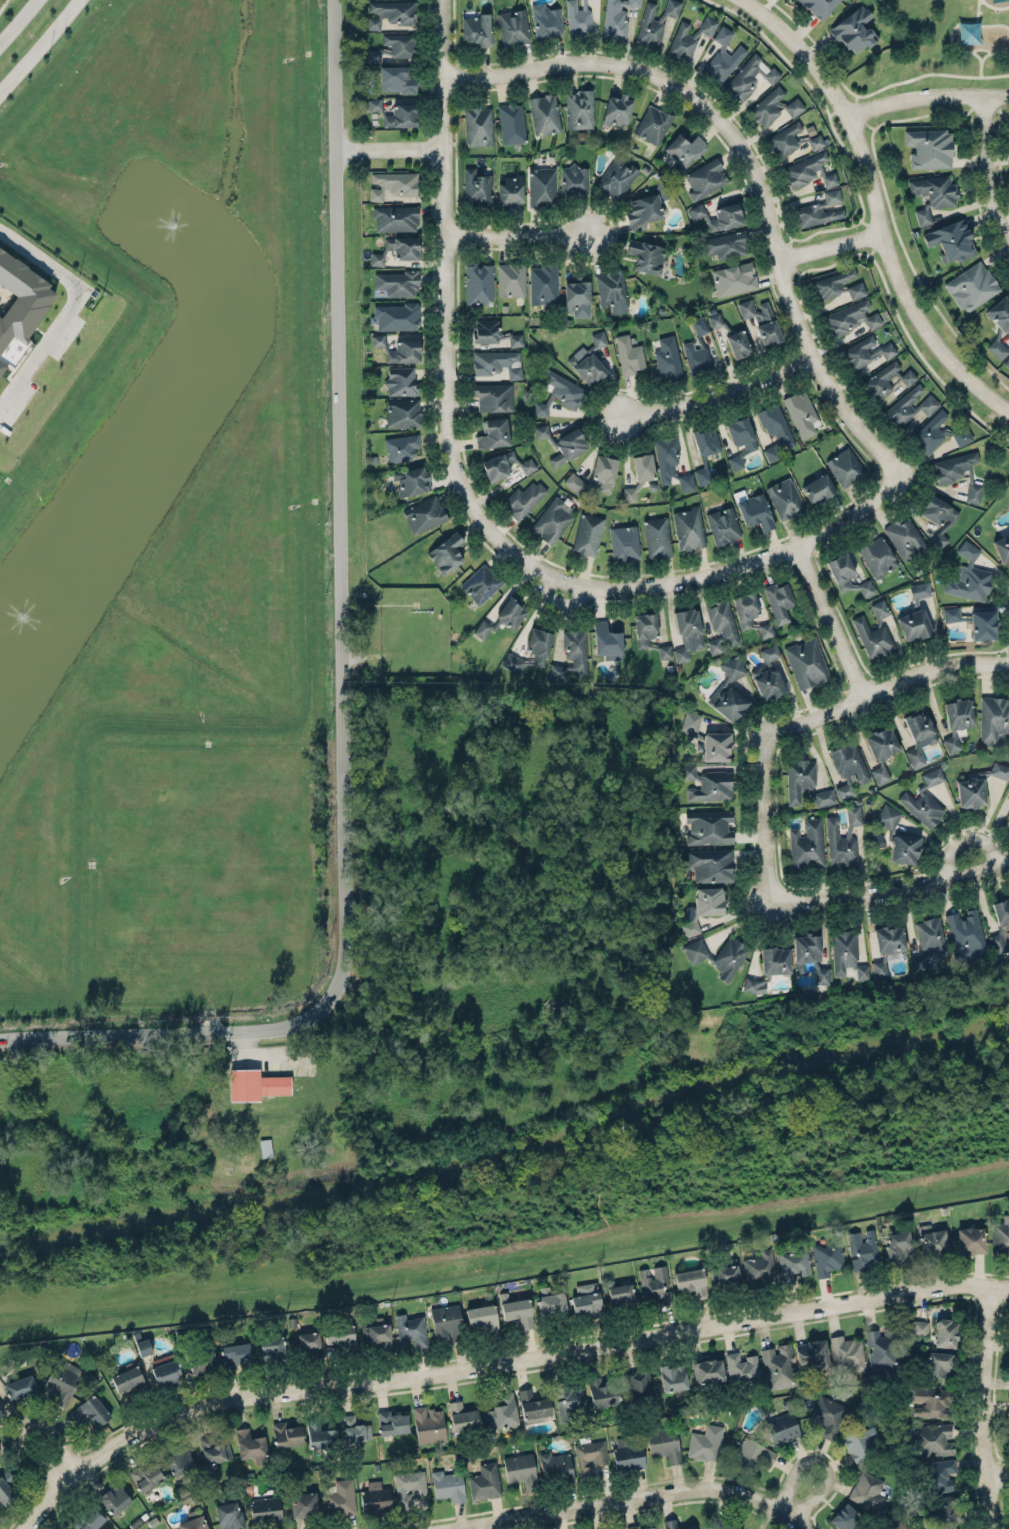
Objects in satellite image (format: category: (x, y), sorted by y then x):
road: (3, 5)
building: (819, 6)
road: (977, 11)
building: (389, 13)
building: (578, 17)
building: (616, 18)
building: (547, 20)
road: (17, 21)
building: (654, 21)
road: (957, 24)
building: (513, 25)
building: (853, 26)
building: (476, 29)
building: (690, 36)
building: (399, 44)
road: (39, 45)
road: (981, 48)
road: (823, 49)
road: (994, 51)
building: (373, 56)
building: (723, 57)
road: (981, 67)
road: (930, 73)
building: (750, 76)
building: (396, 78)
road: (929, 100)
building: (774, 105)
building: (618, 108)
building: (579, 109)
building: (544, 114)
building: (511, 123)
building: (653, 123)
building: (478, 124)
building: (791, 138)
building: (929, 146)
road: (389, 148)
building: (684, 148)
road: (751, 167)
building: (807, 170)
road: (985, 173)
building: (616, 176)
building: (705, 177)
building: (574, 179)
building: (392, 184)
building: (542, 186)
building: (476, 188)
building: (511, 189)
building: (933, 193)
building: (831, 196)
road: (876, 204)
building: (643, 210)
building: (718, 214)
building: (816, 214)
building: (396, 217)
road: (861, 218)
fountain: (174, 224)
road: (518, 235)
building: (951, 241)
building: (725, 244)
road: (829, 245)
building: (397, 248)
road: (448, 255)
building: (646, 256)
building: (734, 278)
building: (511, 279)
building: (478, 282)
building: (397, 283)
building: (543, 283)
building: (838, 285)
building: (972, 285)
building: (611, 291)
building: (20, 293)
building: (578, 296)
road: (63, 311)
building: (1000, 313)
building: (395, 316)
building: (851, 317)
building: (715, 320)
building: (767, 323)
building: (493, 333)
building: (377, 340)
building: (738, 344)
building: (697, 348)
building: (997, 348)
building: (887, 350)
building: (404, 352)
building: (857, 353)
building: (629, 354)
building: (589, 358)
building: (667, 359)
building: (1, 361)
building: (496, 362)
building: (1007, 362)
building: (401, 381)
building: (884, 381)
road: (719, 391)
building: (559, 393)
building: (493, 397)
building: (909, 405)
building: (801, 412)
building: (403, 413)
building: (774, 428)
building: (493, 432)
building: (938, 432)
building: (740, 438)
building: (564, 439)
building: (401, 446)
building: (705, 450)
building: (671, 461)
building: (505, 463)
building: (845, 466)
building: (952, 467)
building: (640, 473)
building: (596, 474)
building: (412, 481)
building: (818, 486)
building: (972, 491)
building: (524, 498)
building: (785, 498)
building: (938, 510)
building: (755, 511)
building: (424, 513)
building: (552, 520)
building: (723, 525)
building: (689, 527)
building: (587, 533)
building: (658, 536)
building: (904, 538)
building: (938, 540)
building: (624, 541)
building: (1003, 546)
building: (446, 553)
building: (877, 555)
building: (841, 570)
building: (969, 575)
road: (689, 579)
building: (480, 581)
building: (866, 588)
building: (920, 590)
building: (779, 599)
building: (750, 612)
fountain: (23, 616)
building: (504, 616)
road: (830, 620)
building: (973, 620)
building: (721, 625)
building: (913, 625)
building: (874, 630)
building: (649, 632)
building: (687, 633)
building: (607, 639)
building: (531, 649)
building: (572, 653)
building: (806, 662)
road: (342, 670)
building: (768, 674)
road: (885, 685)
building: (729, 689)
building: (957, 717)
building: (994, 717)
building: (706, 735)
building: (918, 736)
building: (882, 741)
building: (1008, 752)
building: (848, 766)
building: (688, 772)
building: (880, 775)
building: (805, 782)
building: (711, 786)
building: (978, 786)
building: (1008, 786)
building: (924, 800)
road: (767, 815)
building: (1007, 816)
building: (709, 827)
road: (967, 833)
building: (843, 836)
building: (899, 836)
building: (807, 843)
building: (710, 864)
road: (896, 885)
building: (704, 905)
building: (1001, 924)
building: (965, 935)
building: (889, 937)
building: (929, 941)
building: (843, 951)
building: (718, 955)
building: (809, 955)
building: (774, 960)
building: (879, 969)
building: (861, 971)
building: (753, 985)
building: (255, 1084)
building: (265, 1147)
river: (509, 1150)
building: (970, 1240)
building: (933, 1241)
building: (899, 1245)
building: (862, 1249)
building: (827, 1256)
road: (506, 1257)
building: (793, 1264)
building: (759, 1268)
building: (727, 1272)
building: (692, 1281)
building: (655, 1285)
building: (620, 1295)
building: (550, 1302)
building: (586, 1304)
building: (517, 1308)
building: (483, 1316)
building: (446, 1321)
building: (919, 1327)
building: (411, 1329)
building: (339, 1332)
building: (945, 1333)
building: (375, 1334)
building: (308, 1339)
building: (143, 1345)
building: (883, 1348)
building: (271, 1349)
building: (847, 1351)
building: (813, 1353)
building: (235, 1354)
building: (202, 1360)
road: (496, 1362)
building: (937, 1364)
building: (778, 1366)
building: (741, 1367)
building: (707, 1370)
building: (166, 1371)
building: (673, 1377)
building: (127, 1378)
building: (63, 1381)
building: (638, 1384)
building: (19, 1387)
building: (602, 1392)
building: (930, 1402)
building: (570, 1403)
road: (990, 1406)
building: (533, 1407)
building: (91, 1409)
building: (503, 1411)
building: (1, 1413)
building: (828, 1414)
building: (463, 1415)
building: (392, 1422)
building: (428, 1423)
building: (1008, 1423)
road: (26, 1428)
building: (782, 1428)
building: (354, 1429)
building: (286, 1433)
building: (320, 1435)
building: (933, 1439)
building: (664, 1442)
building: (705, 1442)
building: (861, 1442)
building: (249, 1443)
building: (214, 1449)
building: (628, 1454)
building: (752, 1454)
building: (590, 1456)
building: (179, 1460)
road: (821, 1461)
building: (555, 1466)
building: (520, 1470)
road: (1002, 1473)
building: (940, 1474)
building: (146, 1475)
building: (484, 1481)
building: (449, 1485)
building: (407, 1487)
building: (7, 1488)
building: (869, 1491)
building: (375, 1497)
building: (115, 1498)
building: (340, 1498)
road: (622, 1500)
building: (304, 1504)
building: (265, 1509)
building: (942, 1512)
building: (229, 1515)
building: (92, 1517)
building: (844, 1517)
building: (193, 1523)
building: (670, 1523)
road: (805, 1523)
building: (638, 1527)
building: (724, 1527)
building: (690, 1528)
building: (957, 1528)

